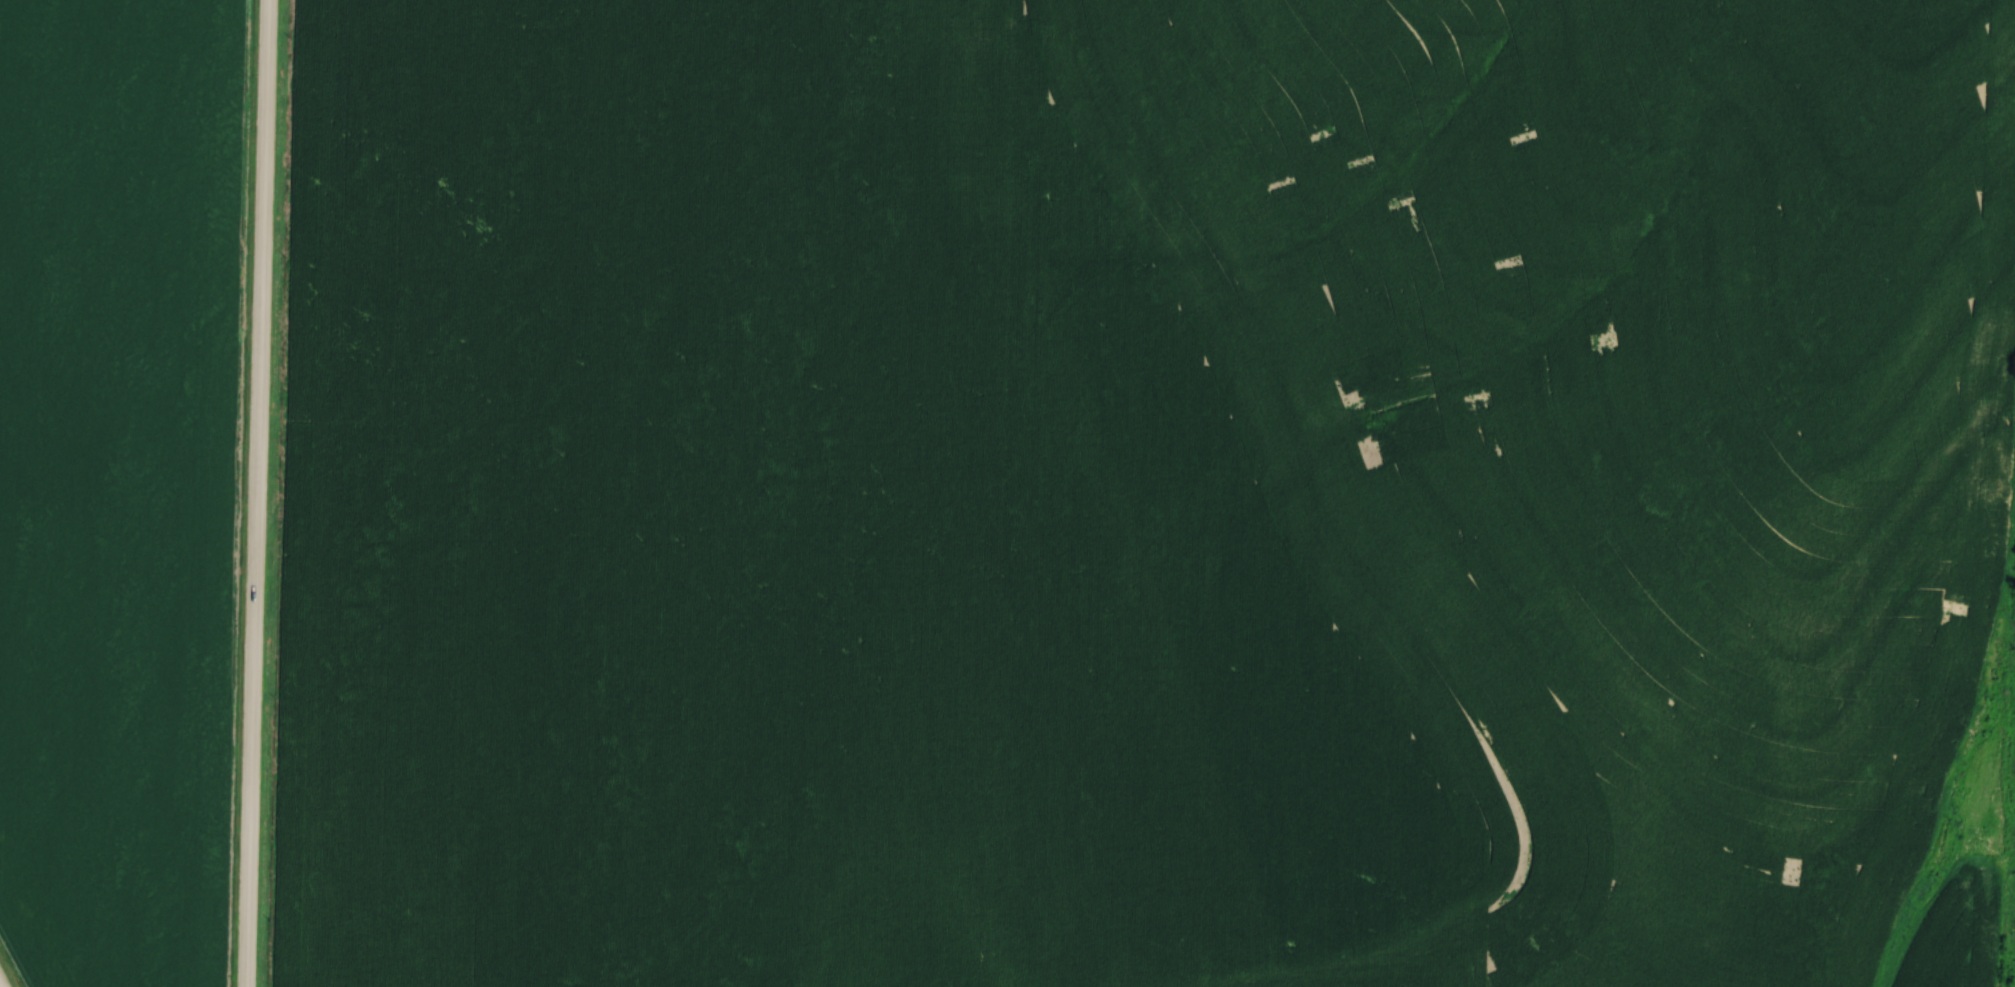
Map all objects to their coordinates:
road: (259, 493)

